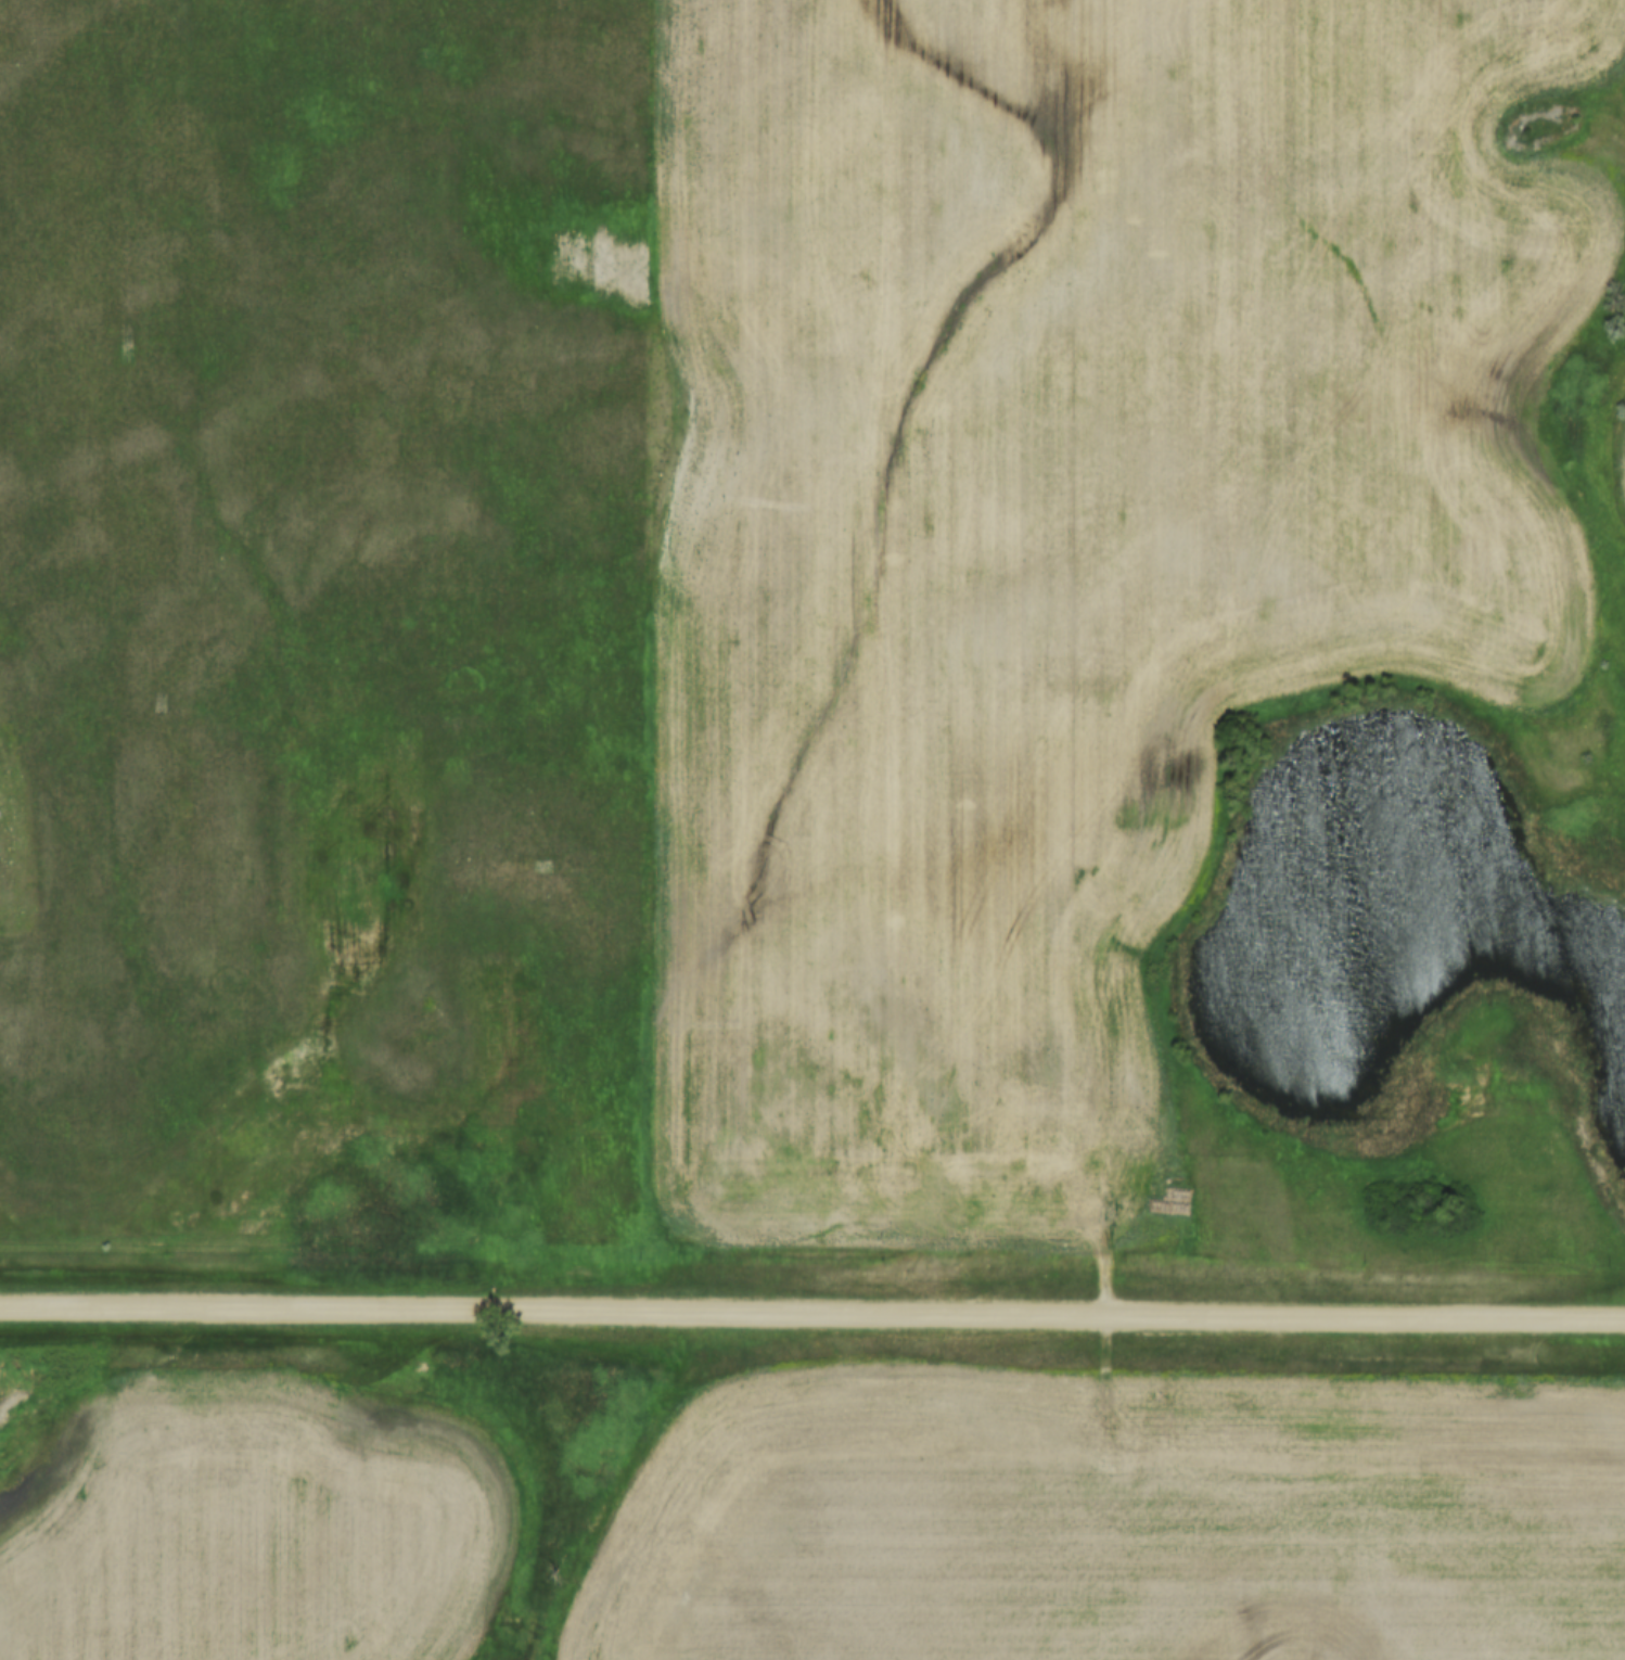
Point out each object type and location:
road: (812, 1320)

